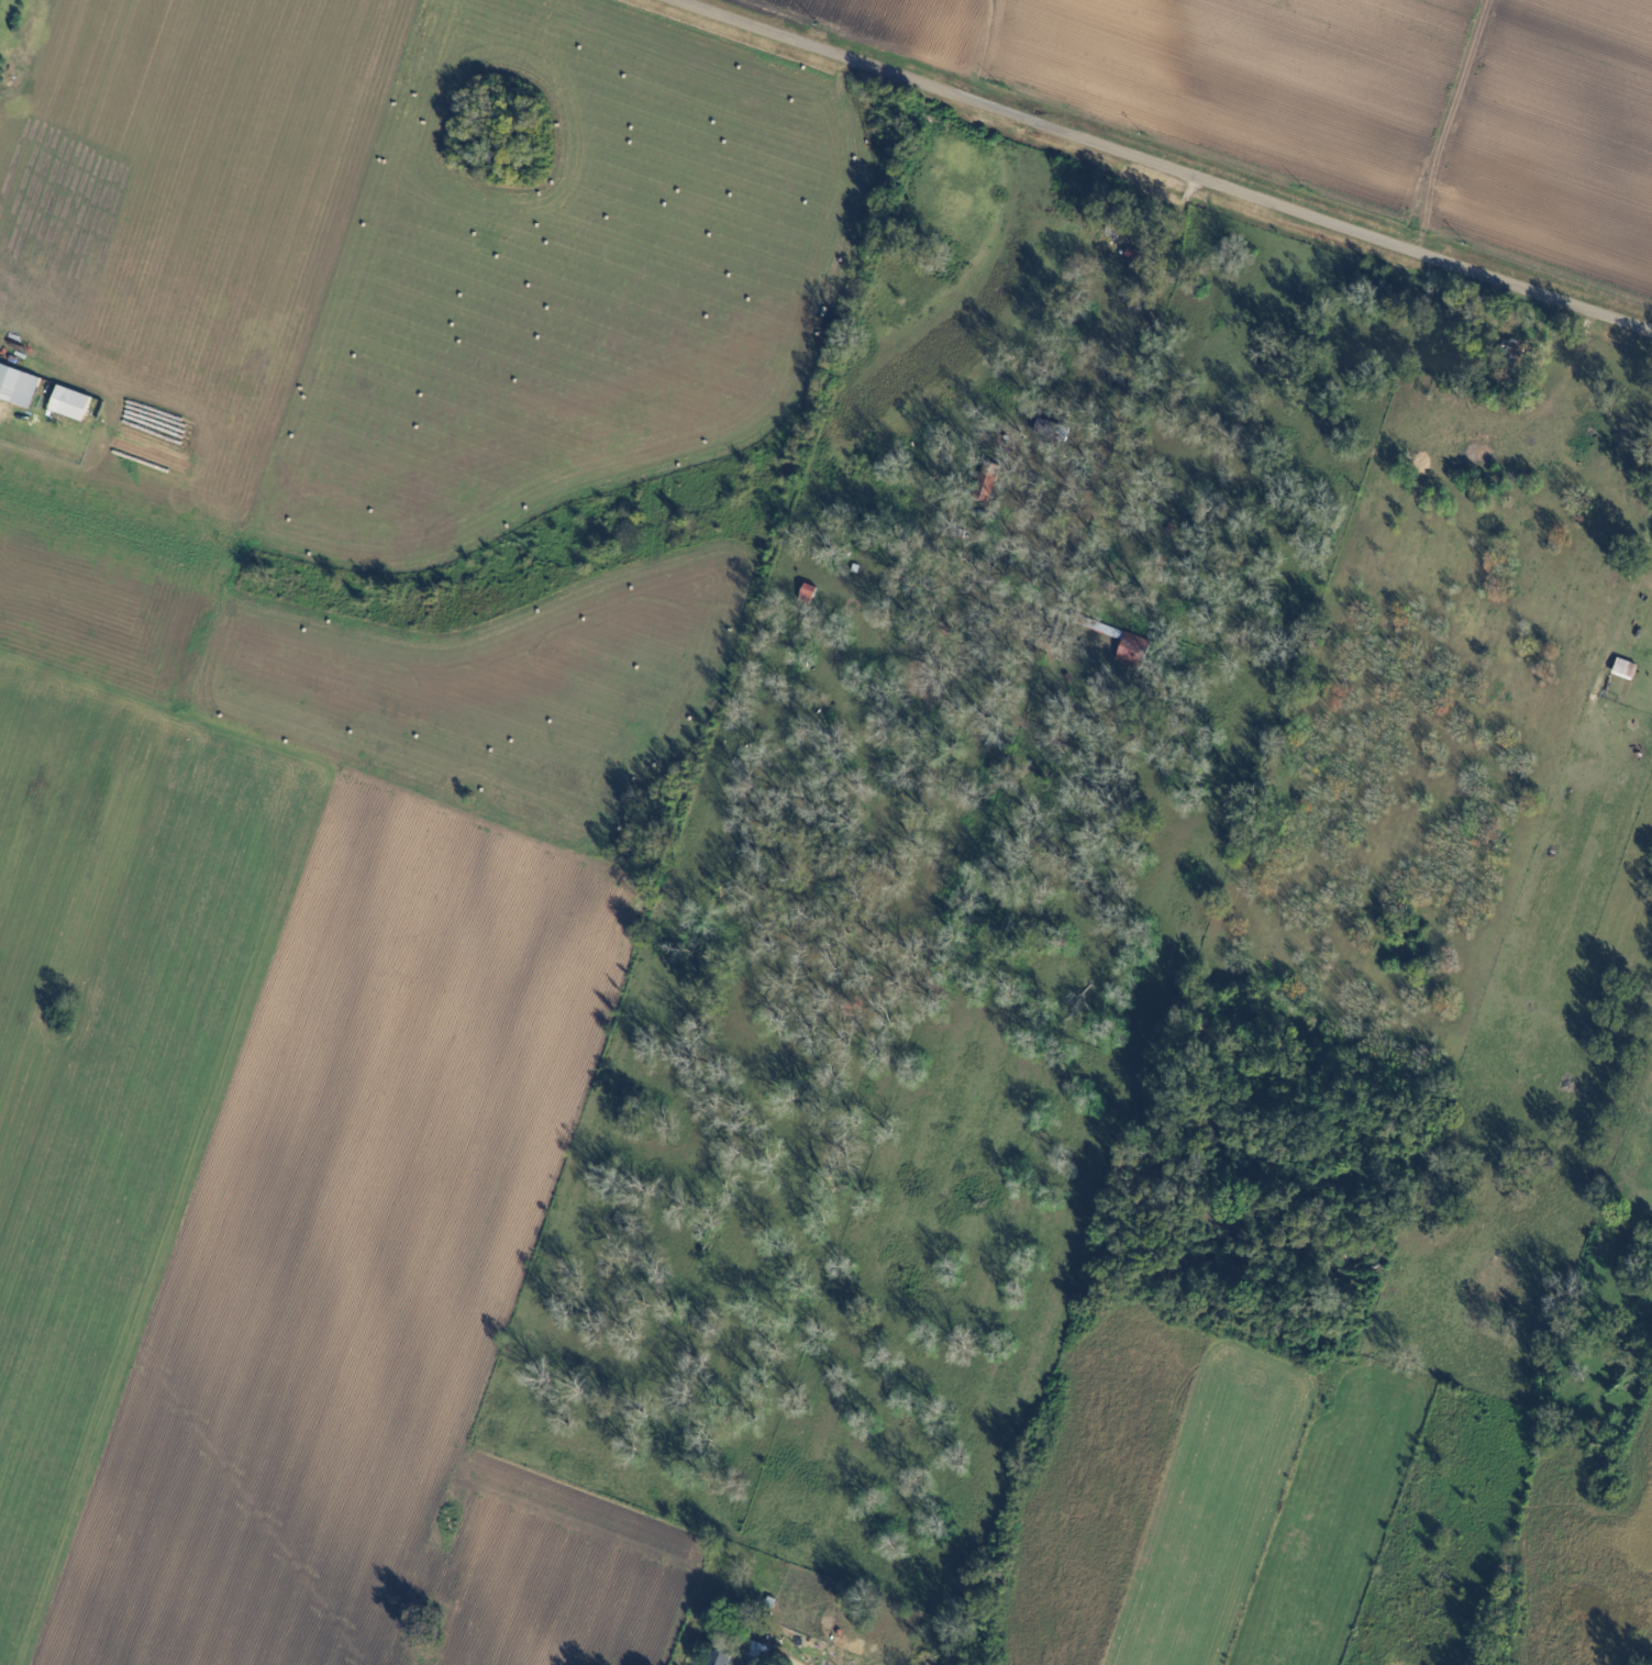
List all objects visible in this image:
road: (1169, 165)
road: (1171, 242)
building: (10, 374)
building: (77, 403)
building: (1626, 666)
building: (750, 1653)
building: (714, 1658)

